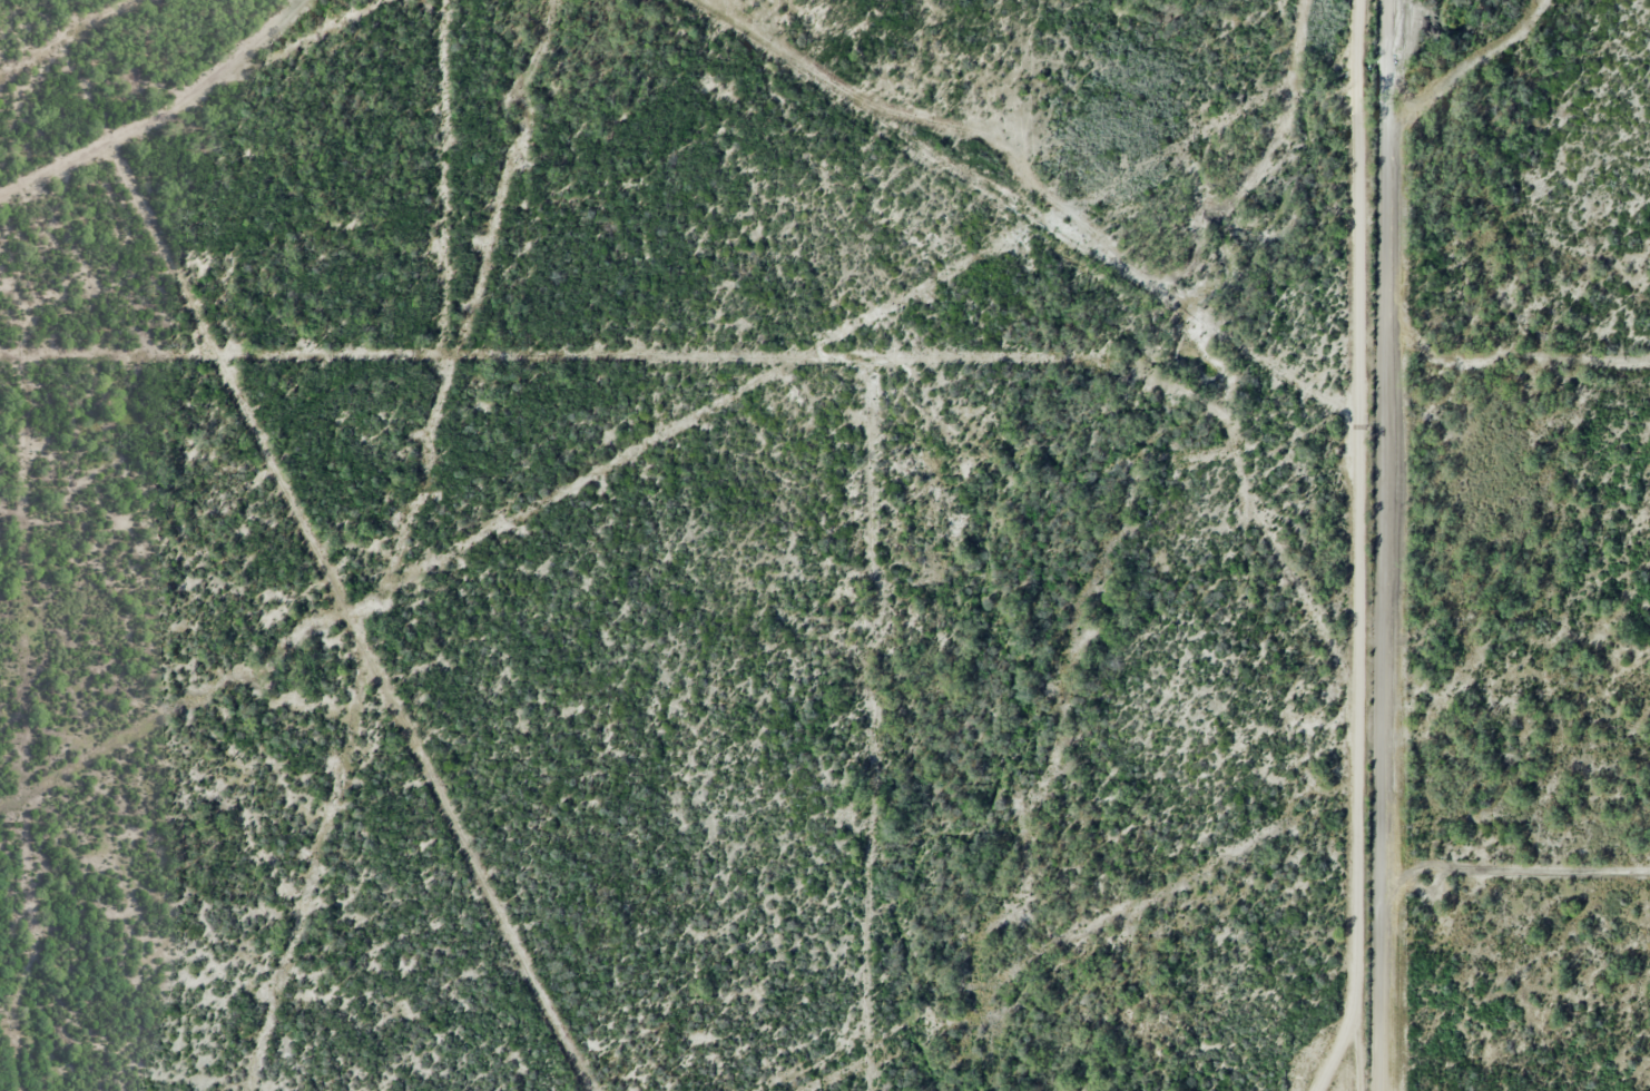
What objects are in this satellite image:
road: (1359, 550)

